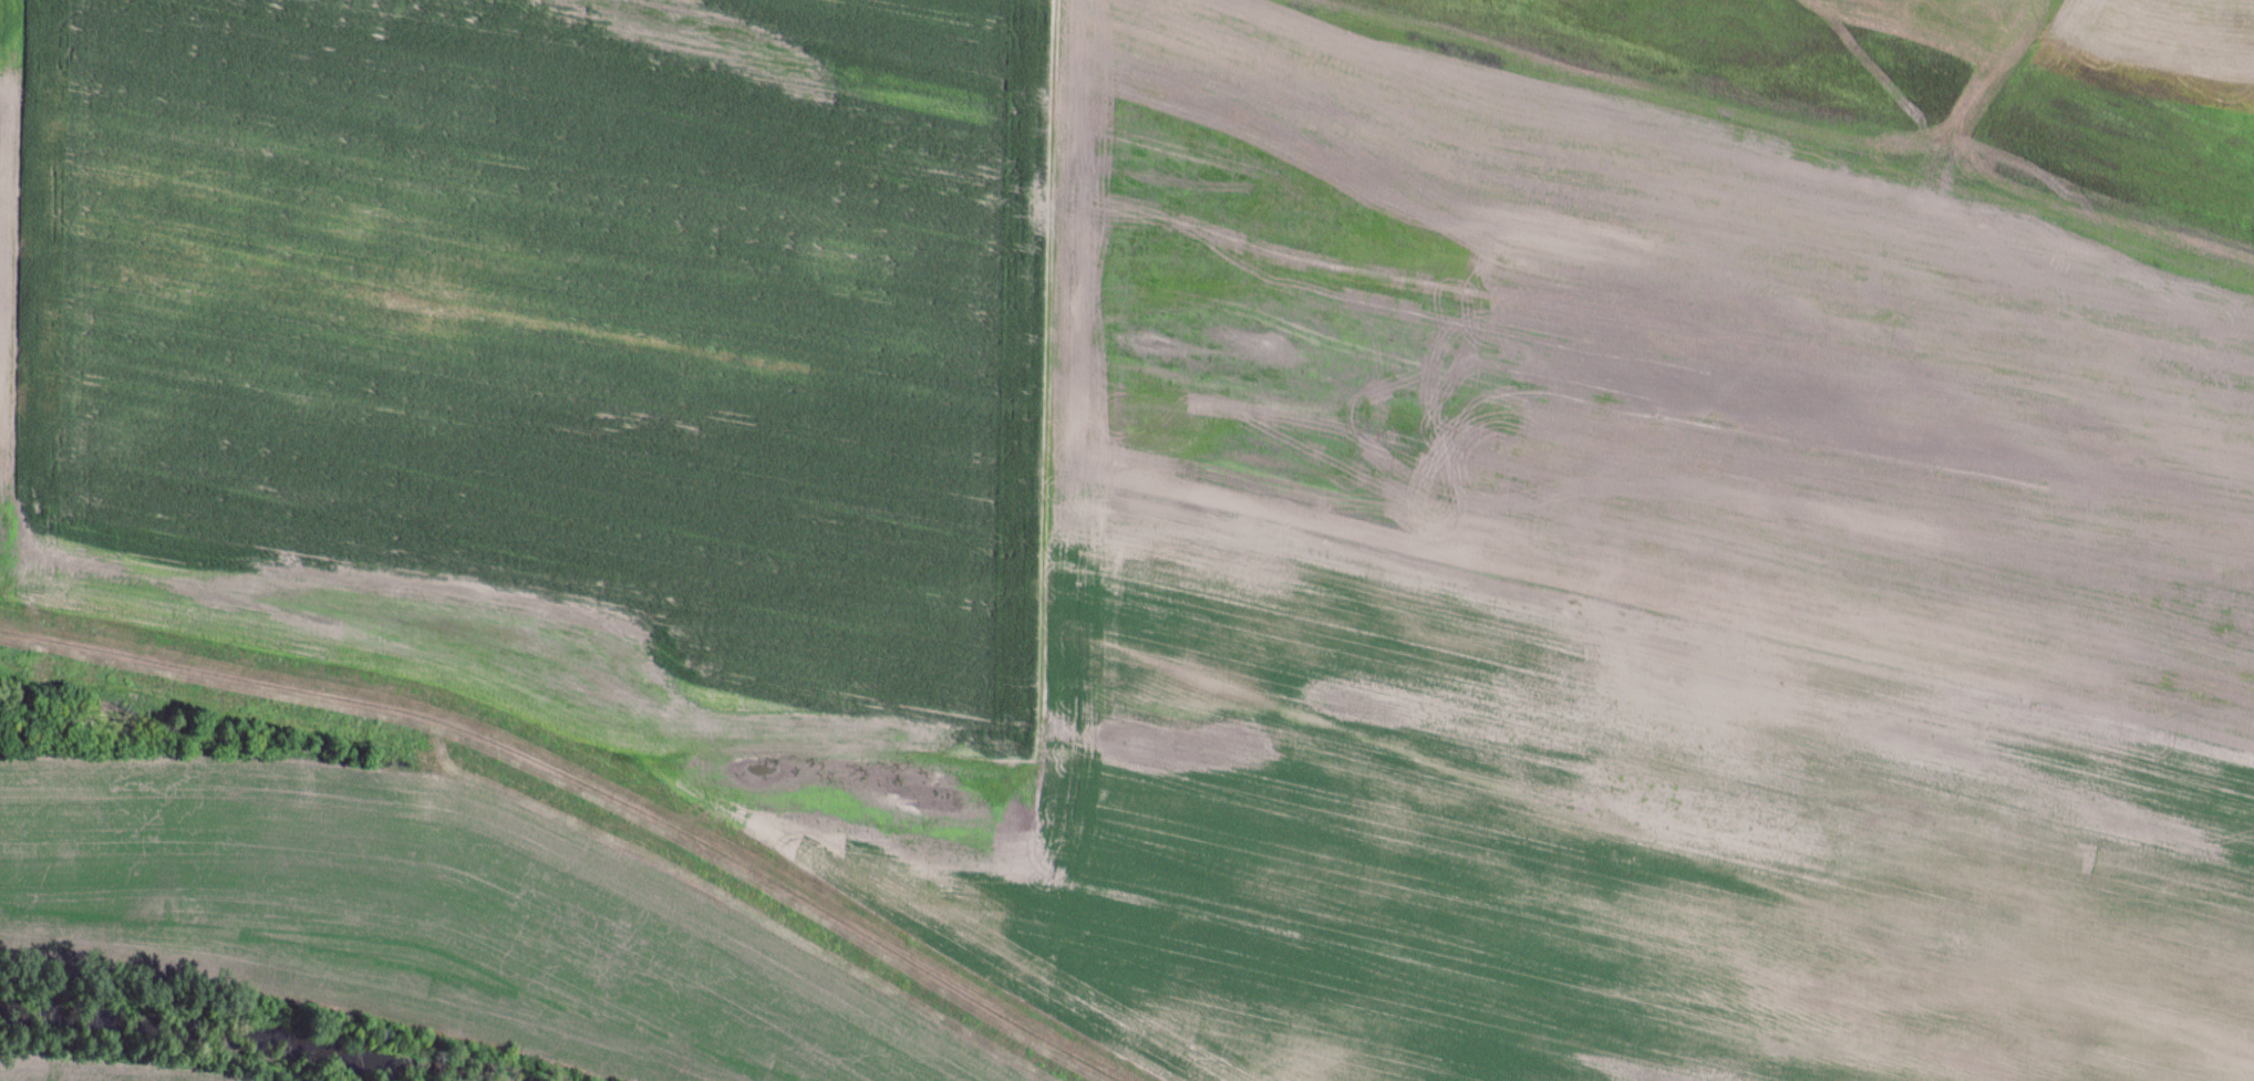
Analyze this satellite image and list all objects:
road: (1027, 664)
road: (581, 786)

